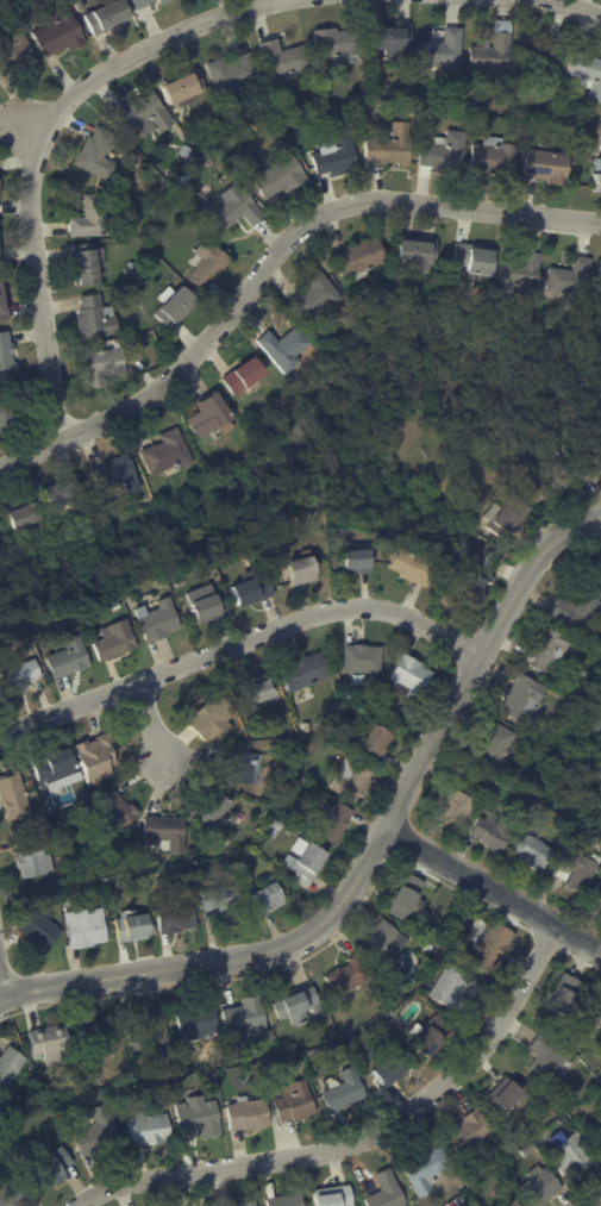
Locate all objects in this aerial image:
building: (168, 1)
building: (144, 2)
road: (568, 7)
building: (111, 17)
building: (62, 33)
building: (390, 39)
building: (339, 42)
building: (446, 51)
building: (18, 52)
building: (283, 57)
building: (496, 57)
building: (545, 60)
building: (588, 73)
building: (233, 75)
building: (181, 87)
building: (414, 93)
building: (265, 107)
building: (532, 112)
building: (415, 113)
building: (145, 114)
building: (547, 115)
building: (367, 119)
building: (588, 123)
road: (37, 143)
building: (393, 146)
building: (444, 149)
building: (187, 150)
building: (100, 155)
building: (494, 155)
building: (133, 156)
building: (338, 156)
building: (211, 158)
building: (140, 160)
building: (545, 164)
building: (145, 167)
building: (225, 170)
building: (596, 175)
building: (282, 179)
building: (237, 207)
building: (94, 217)
building: (1, 242)
building: (419, 252)
building: (361, 258)
building: (477, 258)
road: (273, 263)
building: (88, 264)
building: (209, 265)
building: (524, 270)
building: (600, 271)
building: (572, 280)
building: (317, 296)
building: (5, 302)
building: (177, 308)
building: (98, 319)
building: (484, 329)
building: (127, 340)
building: (286, 350)
building: (7, 355)
building: (104, 365)
building: (246, 376)
building: (213, 415)
building: (6, 417)
building: (168, 455)
building: (584, 458)
building: (546, 475)
building: (119, 477)
building: (63, 495)
building: (25, 515)
building: (507, 519)
building: (490, 561)
building: (357, 563)
building: (326, 565)
building: (417, 565)
building: (303, 573)
building: (184, 585)
building: (475, 585)
building: (253, 590)
building: (192, 598)
building: (118, 608)
building: (575, 610)
building: (208, 611)
building: (159, 621)
building: (115, 641)
road: (240, 643)
building: (544, 650)
building: (566, 652)
building: (362, 658)
building: (70, 661)
building: (307, 671)
building: (25, 676)
building: (414, 676)
building: (258, 692)
building: (519, 699)
building: (214, 719)
building: (589, 719)
road: (152, 723)
building: (308, 726)
building: (378, 738)
building: (349, 744)
building: (489, 748)
building: (98, 757)
building: (57, 766)
building: (244, 767)
building: (600, 767)
building: (353, 780)
building: (14, 793)
building: (451, 806)
building: (275, 808)
building: (215, 811)
building: (118, 813)
building: (595, 817)
building: (337, 821)
building: (276, 829)
building: (169, 832)
building: (490, 832)
building: (577, 837)
building: (195, 851)
building: (528, 854)
road: (368, 856)
building: (36, 857)
building: (82, 861)
building: (307, 864)
building: (575, 868)
building: (156, 873)
road: (494, 888)
building: (599, 898)
building: (269, 899)
building: (409, 899)
building: (221, 902)
building: (55, 907)
building: (179, 919)
building: (133, 926)
building: (88, 927)
building: (40, 929)
building: (383, 939)
building: (453, 942)
building: (488, 943)
building: (430, 948)
building: (350, 976)
building: (451, 988)
road: (0, 993)
building: (565, 995)
building: (299, 1005)
building: (599, 1014)
building: (248, 1019)
building: (196, 1021)
building: (428, 1032)
building: (102, 1033)
building: (151, 1036)
building: (271, 1036)
building: (308, 1037)
building: (357, 1037)
building: (50, 1041)
building: (549, 1057)
building: (11, 1068)
building: (390, 1069)
building: (346, 1092)
building: (508, 1095)
building: (296, 1102)
building: (249, 1114)
building: (64, 1117)
building: (202, 1118)
building: (566, 1120)
building: (150, 1130)
road: (370, 1132)
building: (99, 1135)
building: (472, 1135)
building: (599, 1135)
building: (530, 1149)
building: (571, 1151)
building: (11, 1154)
building: (52, 1169)
building: (428, 1171)
building: (476, 1174)
building: (539, 1183)
building: (14, 1192)
building: (388, 1192)
building: (334, 1195)
building: (284, 1198)
building: (462, 1200)
road: (87, 1201)
building: (251, 1202)
building: (513, 1202)
building: (455, 1204)
building: (503, 1205)
road: (600, 1205)

